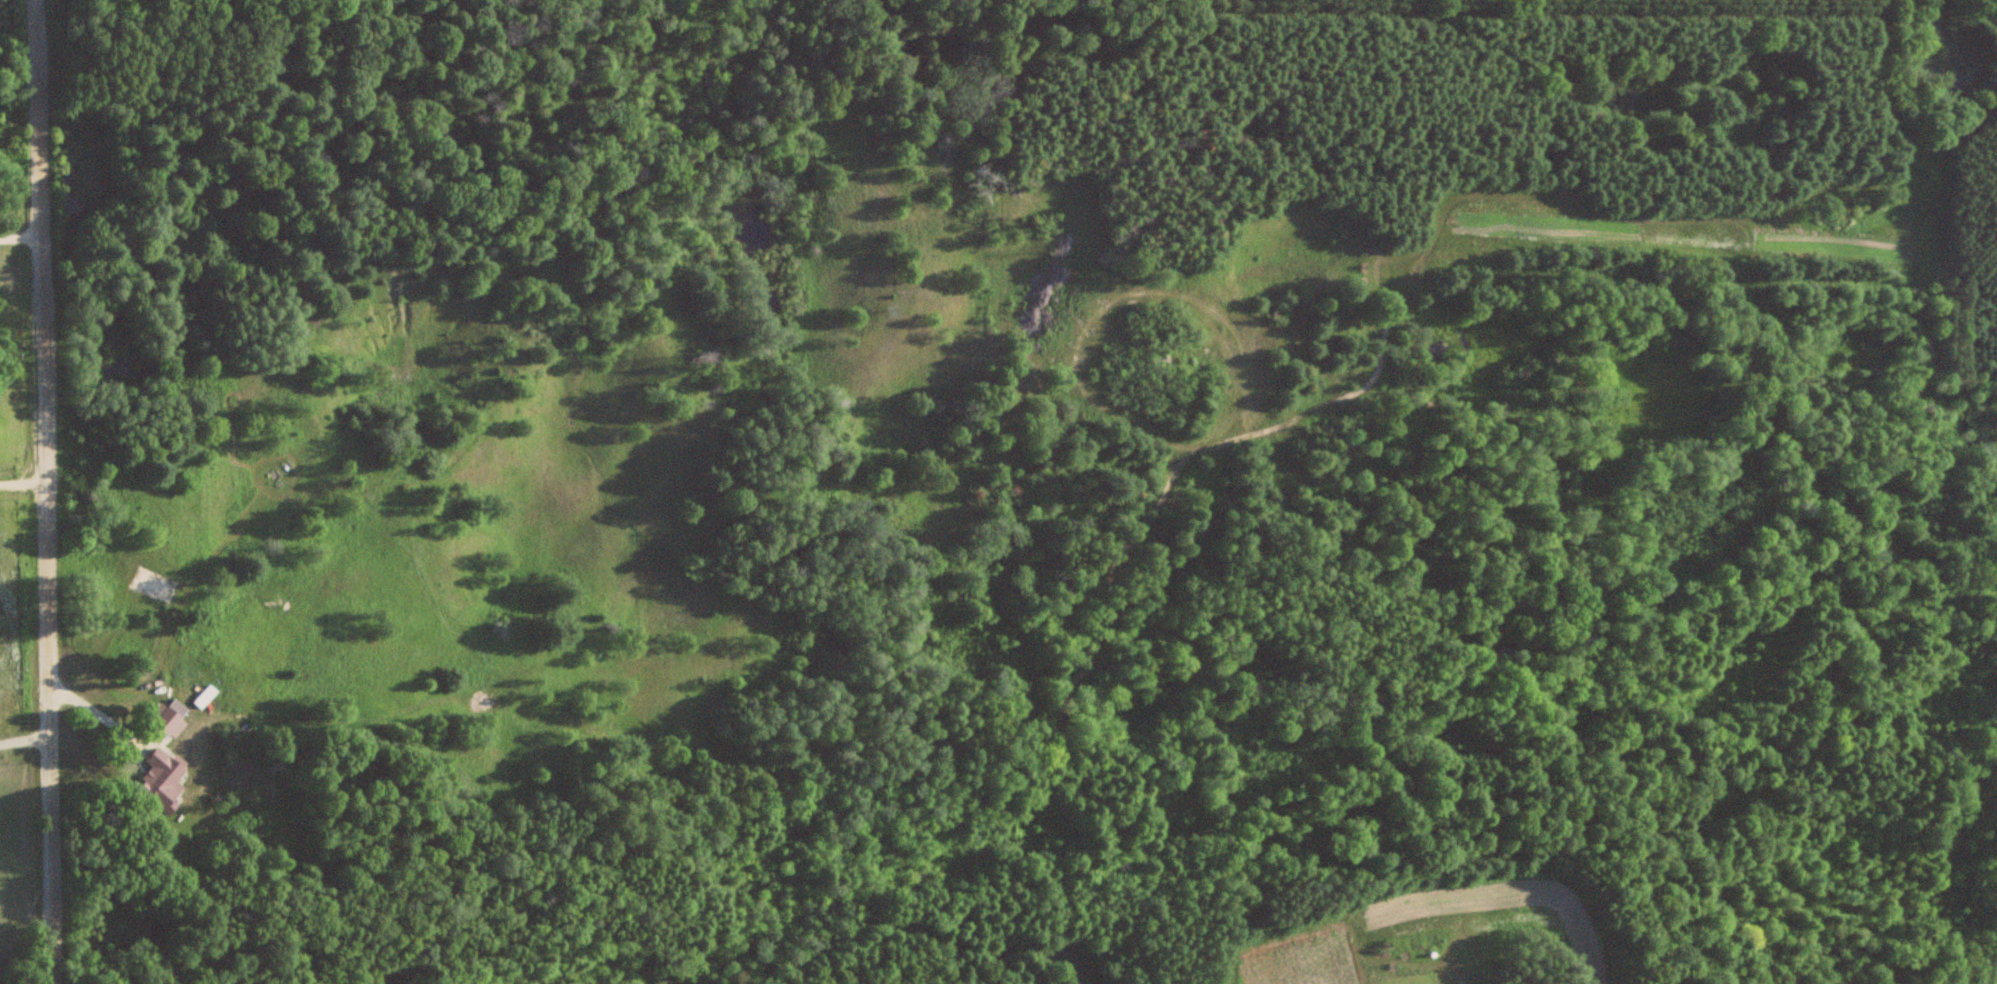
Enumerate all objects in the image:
road: (44, 492)
building: (172, 716)
building: (164, 780)

